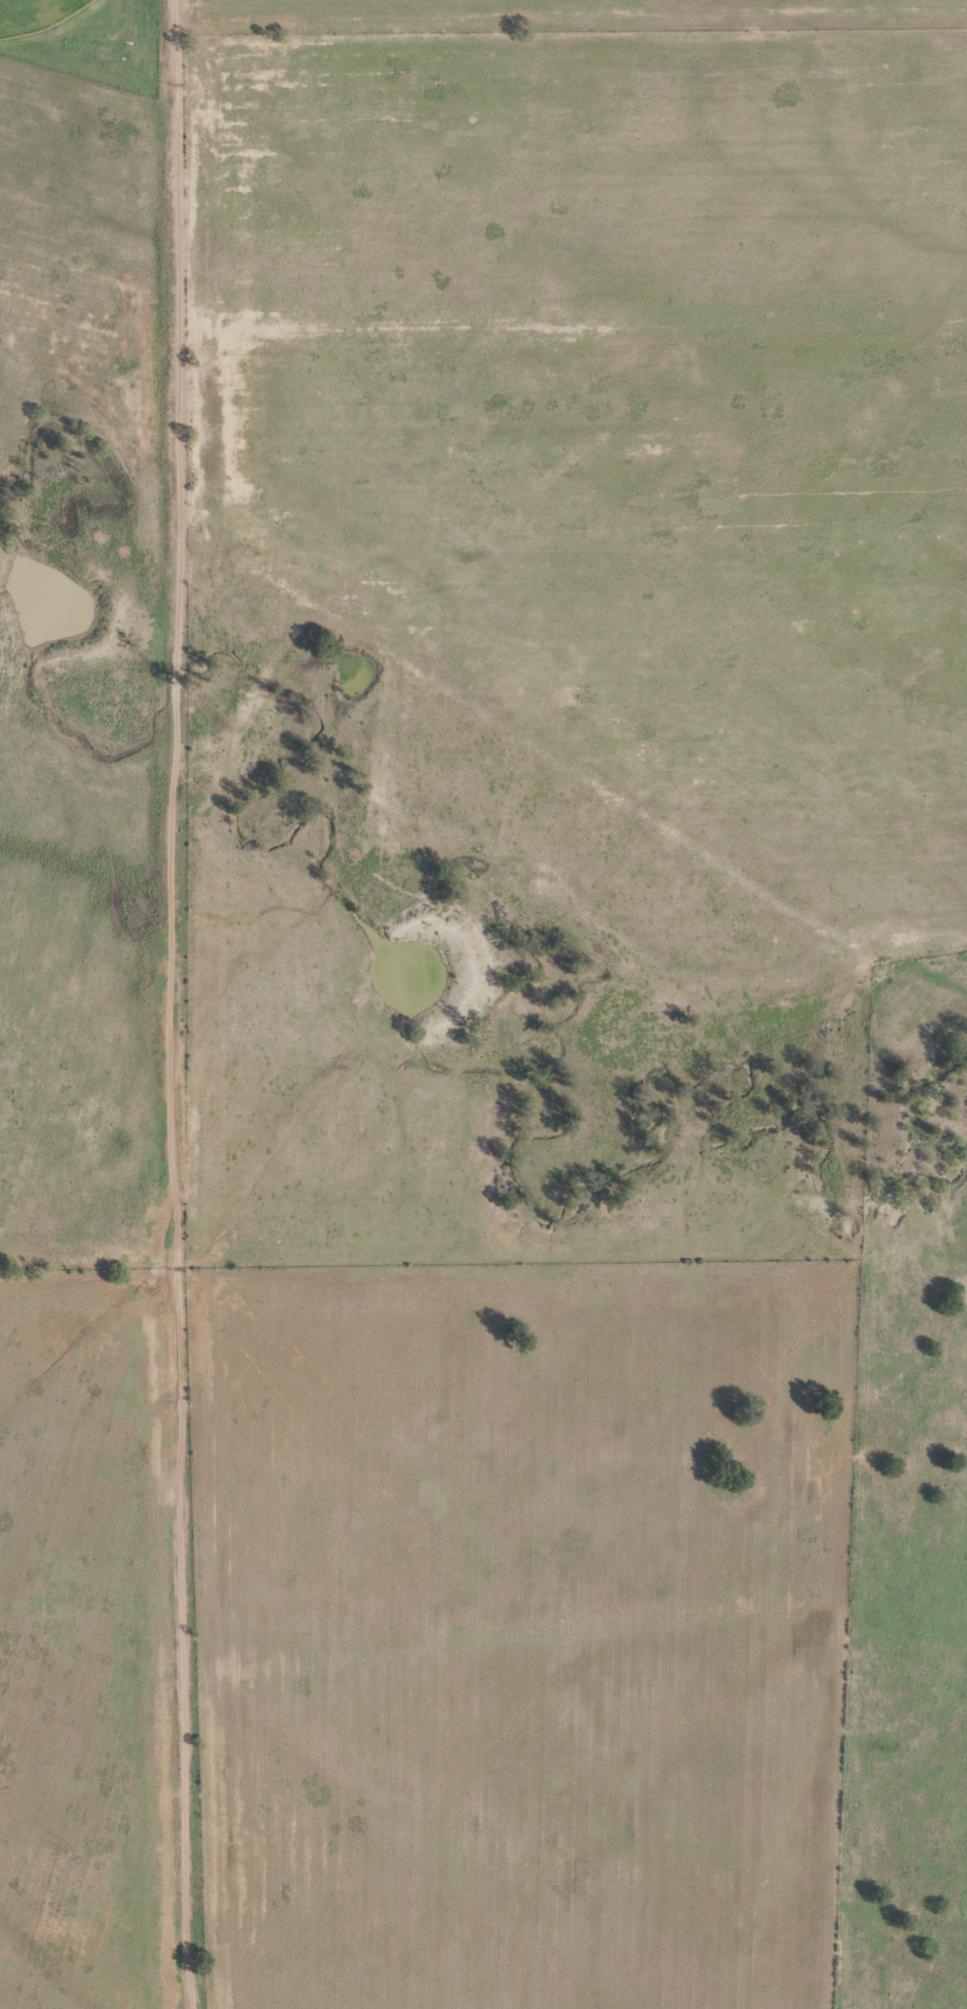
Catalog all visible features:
road: (169, 1004)

